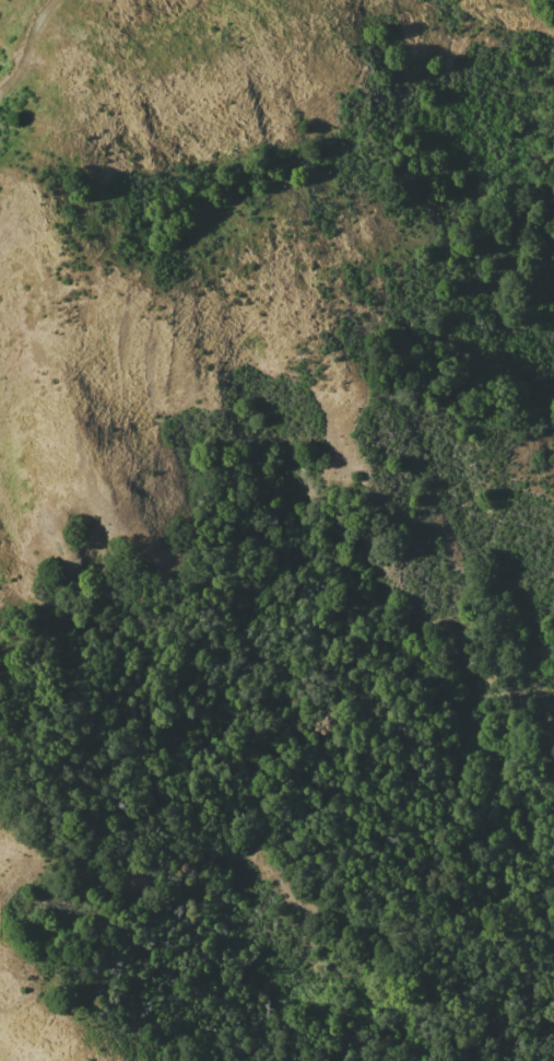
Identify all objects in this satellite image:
road: (25, 44)

